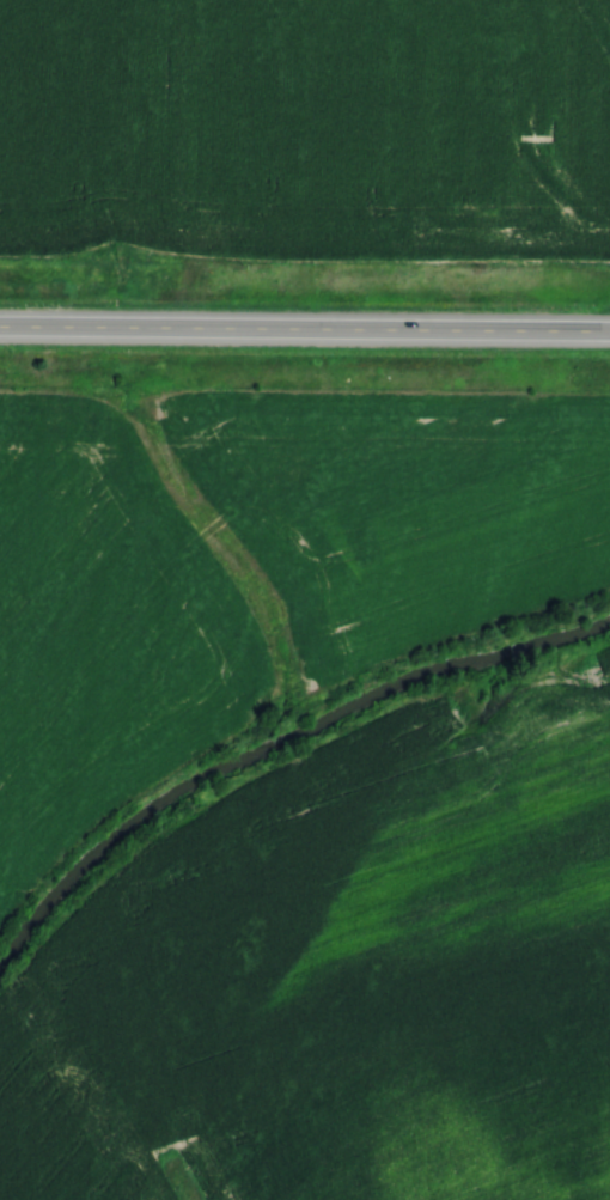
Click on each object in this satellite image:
road: (305, 336)

